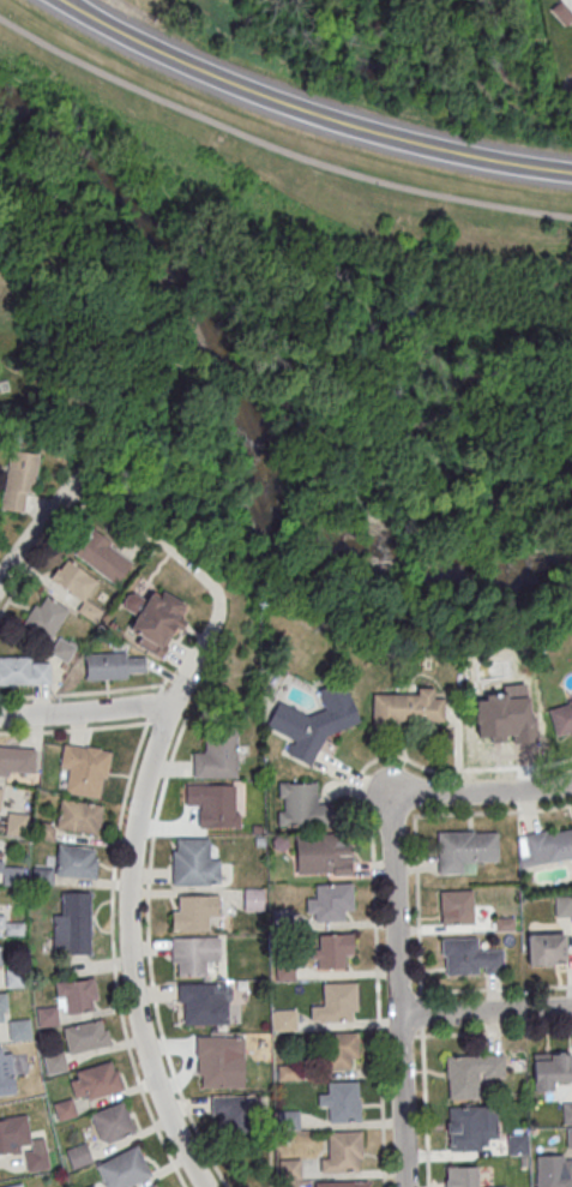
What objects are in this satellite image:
building: (561, 12)
park: (200, 19)
road: (306, 114)
road: (276, 146)
road: (206, 211)
park: (308, 300)
road: (371, 402)
river: (231, 431)
road: (384, 432)
road: (397, 462)
building: (18, 480)
road: (84, 486)
road: (482, 511)
road: (103, 518)
road: (40, 526)
road: (138, 542)
road: (128, 545)
road: (43, 554)
building: (102, 557)
road: (200, 575)
building: (77, 586)
building: (46, 616)
building: (157, 622)
building: (61, 648)
building: (114, 665)
building: (24, 670)
road: (80, 694)
building: (405, 708)
road: (84, 711)
building: (561, 715)
road: (158, 721)
building: (314, 721)
building: (504, 724)
road: (76, 730)
building: (217, 754)
building: (17, 760)
building: (85, 769)
building: (0, 791)
road: (486, 796)
building: (215, 804)
building: (301, 804)
building: (78, 816)
building: (16, 825)
road: (414, 828)
building: (548, 845)
building: (464, 849)
building: (323, 853)
building: (76, 861)
building: (193, 863)
road: (372, 865)
building: (11, 874)
building: (43, 876)
building: (253, 899)
building: (330, 901)
building: (562, 905)
building: (456, 906)
building: (193, 911)
building: (72, 923)
road: (112, 933)
building: (547, 948)
building: (331, 949)
building: (194, 953)
road: (127, 954)
building: (469, 957)
road: (150, 958)
road: (492, 988)
road: (407, 990)
road: (402, 996)
building: (70, 1000)
building: (201, 1002)
building: (338, 1002)
building: (2, 1006)
road: (487, 1012)
road: (422, 1013)
building: (284, 1019)
building: (19, 1029)
road: (494, 1030)
road: (410, 1032)
building: (85, 1035)
building: (341, 1050)
building: (216, 1060)
building: (53, 1062)
building: (552, 1071)
building: (6, 1072)
building: (470, 1073)
building: (95, 1080)
building: (342, 1101)
road: (425, 1107)
building: (64, 1109)
building: (230, 1110)
building: (289, 1120)
building: (112, 1121)
building: (471, 1129)
building: (343, 1152)
building: (77, 1156)
building: (289, 1167)
building: (122, 1168)
building: (465, 1176)
building: (554, 1179)
building: (348, 1183)
building: (13, 1185)
building: (152, 1186)

